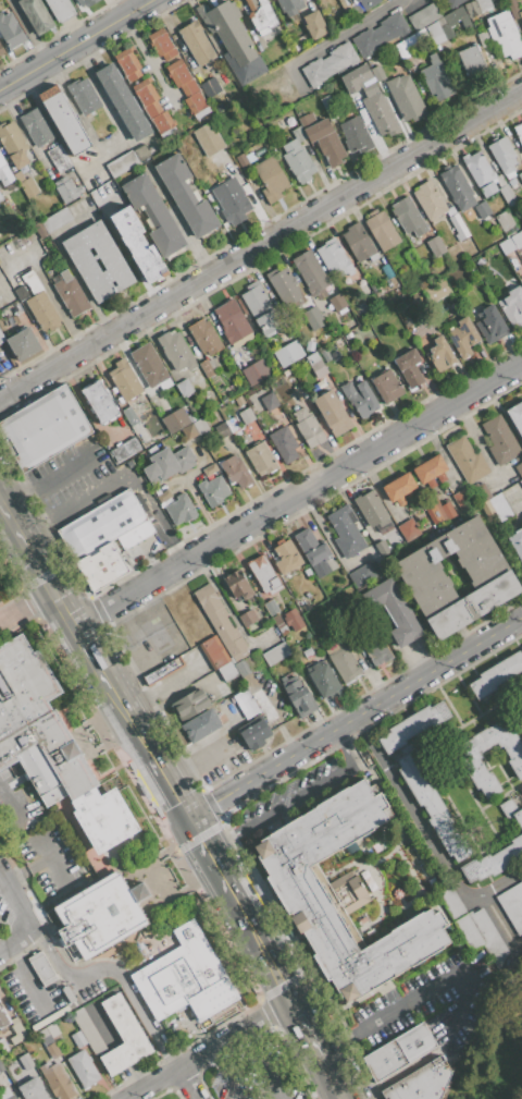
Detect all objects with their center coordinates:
building: (85, 2)
building: (452, 3)
building: (363, 4)
building: (483, 4)
building: (289, 7)
building: (60, 9)
building: (471, 9)
building: (512, 9)
building: (259, 13)
building: (36, 15)
building: (520, 16)
building: (423, 17)
building: (457, 17)
building: (314, 25)
building: (10, 30)
road: (28, 30)
road: (348, 30)
building: (435, 33)
building: (381, 34)
building: (505, 35)
building: (484, 39)
building: (233, 41)
building: (197, 42)
road: (76, 44)
building: (161, 44)
building: (1, 50)
road: (148, 59)
building: (471, 61)
building: (127, 64)
building: (330, 64)
building: (377, 73)
building: (355, 78)
building: (436, 80)
building: (209, 87)
building: (188, 88)
building: (83, 96)
building: (406, 97)
building: (123, 102)
road: (251, 107)
building: (153, 108)
building: (380, 113)
building: (64, 120)
building: (36, 126)
building: (518, 132)
building: (356, 135)
building: (208, 138)
building: (322, 138)
building: (13, 145)
building: (140, 152)
building: (502, 157)
building: (58, 158)
building: (243, 161)
building: (297, 161)
building: (2, 162)
building: (122, 163)
building: (480, 172)
building: (17, 176)
building: (520, 176)
building: (271, 179)
building: (27, 187)
building: (457, 187)
building: (66, 190)
building: (186, 195)
building: (508, 195)
building: (0, 199)
building: (231, 200)
building: (438, 207)
building: (483, 209)
building: (153, 215)
building: (408, 217)
building: (55, 220)
building: (506, 221)
building: (521, 228)
building: (382, 230)
building: (517, 239)
building: (359, 242)
building: (137, 245)
road: (261, 245)
building: (435, 245)
building: (334, 258)
building: (412, 258)
building: (98, 260)
building: (480, 262)
building: (448, 264)
building: (387, 271)
building: (311, 273)
building: (285, 288)
building: (20, 291)
building: (439, 291)
building: (71, 294)
building: (337, 302)
building: (512, 306)
building: (261, 309)
building: (42, 312)
building: (313, 314)
building: (232, 321)
building: (492, 325)
building: (2, 334)
building: (204, 335)
building: (365, 335)
building: (463, 338)
building: (23, 343)
building: (176, 351)
building: (288, 353)
building: (440, 354)
building: (149, 365)
building: (316, 365)
building: (207, 368)
building: (409, 368)
building: (256, 371)
building: (124, 379)
building: (387, 386)
building: (185, 388)
building: (360, 398)
building: (239, 401)
building: (270, 401)
building: (100, 402)
building: (333, 413)
building: (279, 414)
building: (300, 414)
building: (246, 415)
building: (129, 416)
building: (517, 416)
building: (176, 420)
building: (150, 423)
building: (43, 428)
building: (251, 428)
building: (222, 429)
building: (189, 431)
building: (310, 431)
building: (499, 440)
building: (284, 443)
building: (125, 450)
building: (260, 457)
building: (467, 460)
building: (167, 464)
building: (519, 468)
building: (209, 469)
building: (430, 469)
building: (236, 471)
road: (43, 477)
building: (521, 483)
building: (399, 488)
building: (213, 490)
building: (478, 492)
road: (298, 493)
building: (163, 497)
building: (462, 499)
road: (71, 503)
building: (499, 506)
building: (370, 508)
building: (486, 509)
building: (181, 510)
building: (448, 510)
building: (434, 512)
building: (101, 525)
building: (408, 530)
building: (345, 532)
building: (133, 535)
building: (517, 542)
building: (313, 552)
building: (286, 555)
building: (102, 565)
building: (263, 573)
building: (363, 574)
building: (458, 577)
building: (238, 585)
road: (26, 603)
building: (271, 608)
building: (394, 611)
building: (248, 618)
building: (293, 619)
road: (521, 619)
building: (220, 620)
road: (78, 631)
building: (377, 651)
building: (213, 652)
building: (275, 654)
building: (344, 664)
building: (162, 671)
building: (227, 671)
building: (497, 674)
building: (324, 680)
road: (162, 683)
building: (300, 697)
building: (246, 704)
building: (189, 705)
road: (355, 717)
building: (200, 725)
building: (412, 725)
building: (253, 732)
building: (49, 743)
road: (200, 759)
building: (469, 760)
building: (521, 787)
road: (171, 791)
building: (521, 791)
road: (293, 796)
road: (9, 806)
building: (433, 808)
traffic signals: (187, 817)
building: (519, 817)
road: (194, 828)
road: (424, 834)
road: (39, 853)
building: (493, 860)
road: (23, 870)
building: (341, 895)
road: (16, 903)
building: (512, 906)
building: (99, 916)
road: (247, 919)
road: (501, 924)
building: (487, 935)
road: (15, 940)
road: (21, 966)
building: (41, 967)
road: (70, 973)
building: (185, 978)
road: (427, 990)
road: (41, 1003)
road: (146, 1015)
building: (3, 1017)
road: (308, 1026)
building: (95, 1027)
building: (20, 1031)
road: (191, 1034)
building: (123, 1036)
road: (247, 1037)
building: (78, 1039)
building: (414, 1042)
road: (334, 1047)
road: (211, 1049)
building: (52, 1051)
road: (212, 1057)
building: (385, 1060)
building: (26, 1061)
road: (173, 1061)
building: (83, 1069)
road: (265, 1072)
parking lot: (253, 1074)
road: (334, 1076)
building: (57, 1080)
road: (225, 1080)
road: (190, 1083)
building: (421, 1083)
building: (33, 1089)
building: (297, 1094)
building: (12, 1097)

